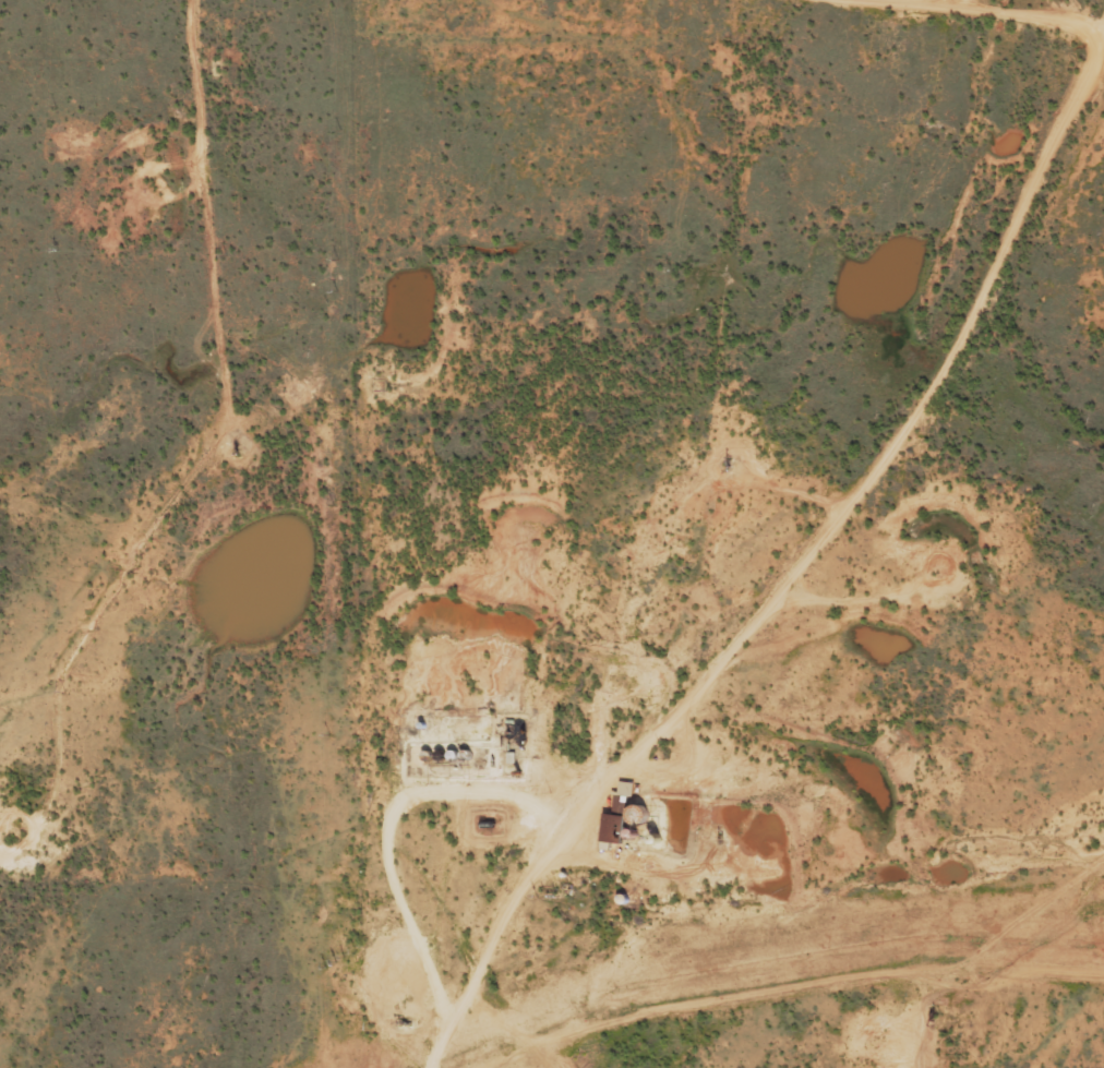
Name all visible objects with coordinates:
road: (820, 37)
road: (999, 287)
road: (115, 554)
road: (988, 617)
road: (612, 687)
road: (221, 793)
building: (615, 824)
road: (746, 926)
building: (593, 1058)

